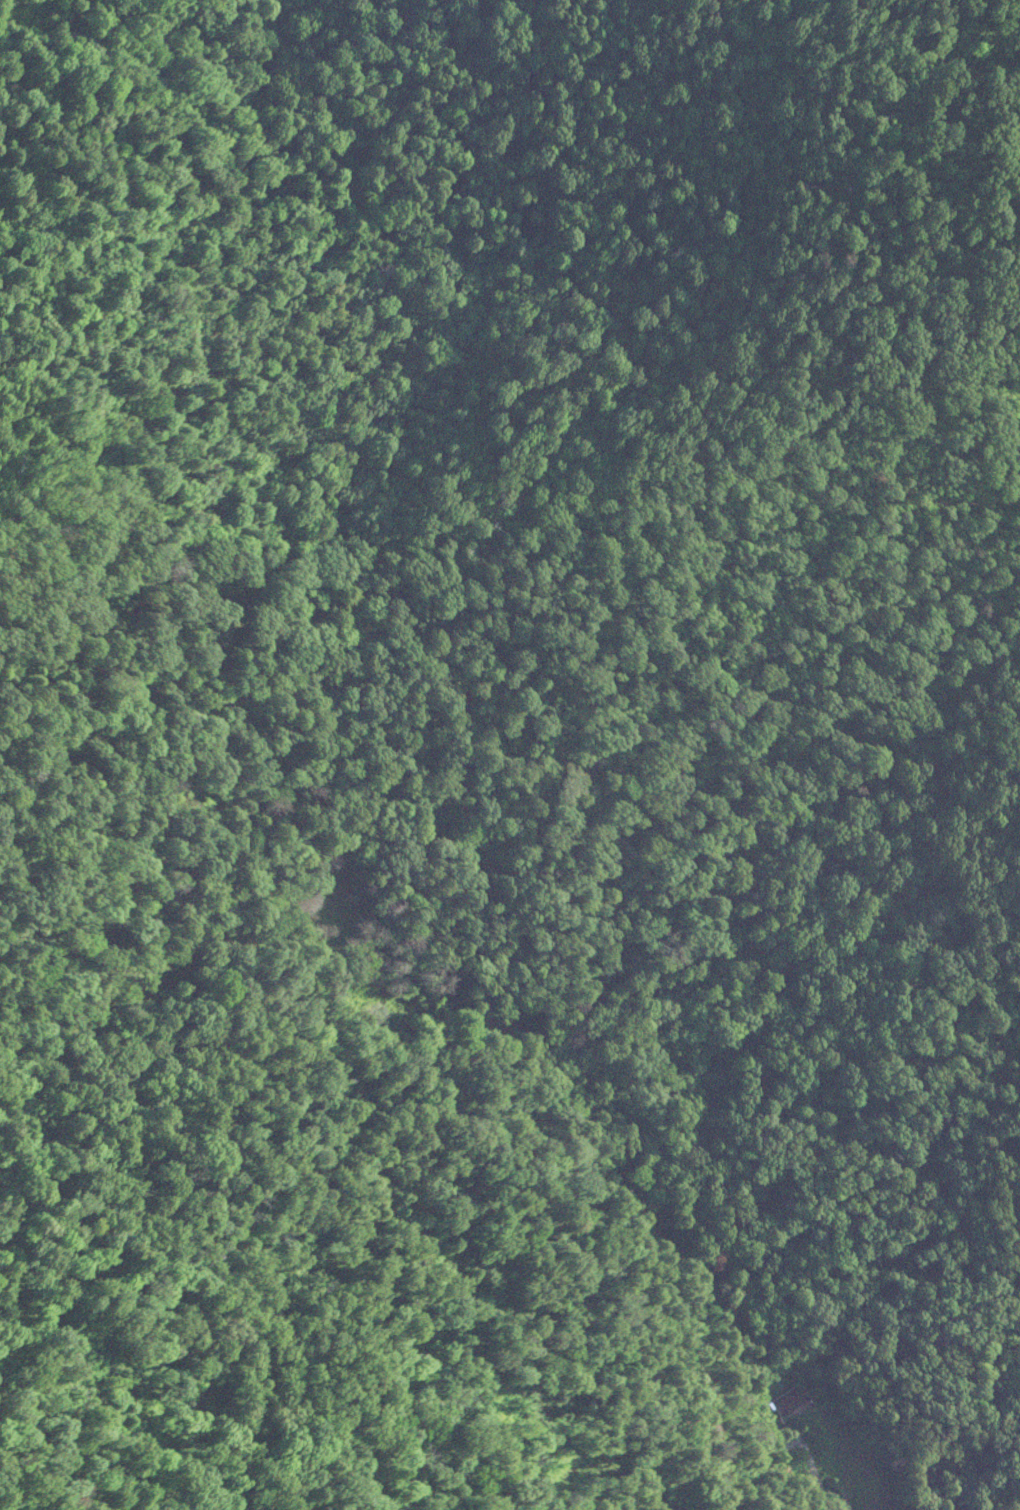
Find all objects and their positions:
road: (811, 1464)

